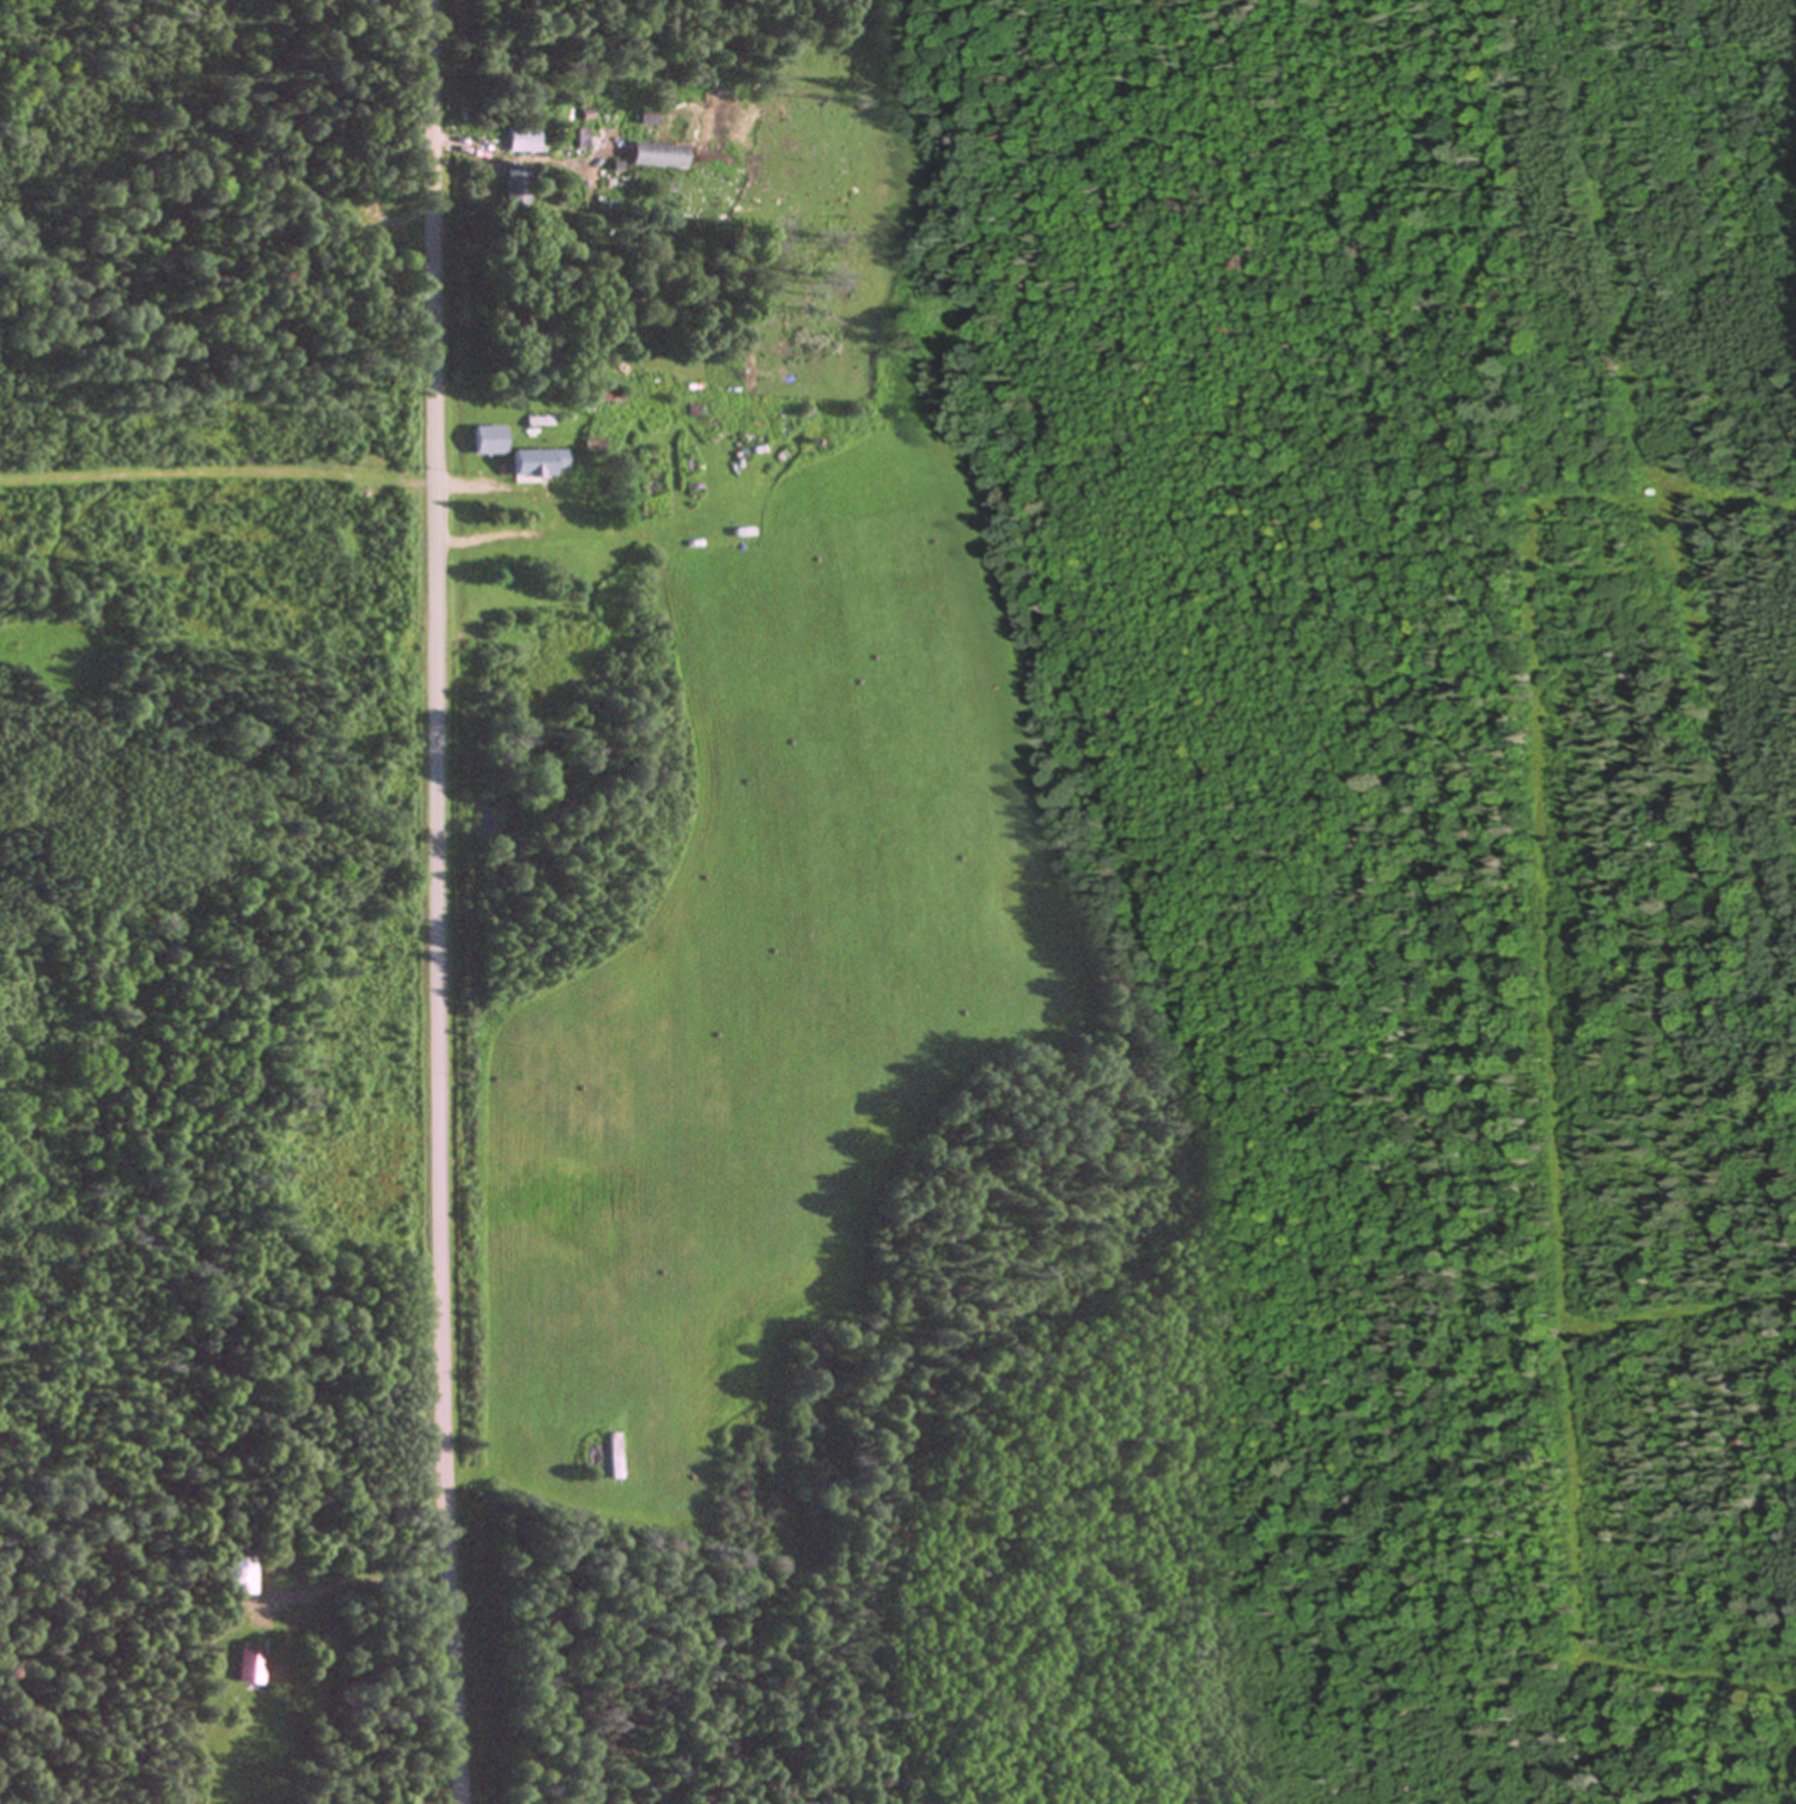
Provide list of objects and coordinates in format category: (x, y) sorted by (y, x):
building: (647, 117)
building: (522, 139)
road: (449, 140)
building: (657, 154)
building: (517, 184)
building: (486, 439)
building: (534, 463)
road: (214, 472)
road: (456, 487)
road: (431, 901)
building: (610, 1454)
building: (236, 1575)
road: (353, 1586)
building: (245, 1664)

